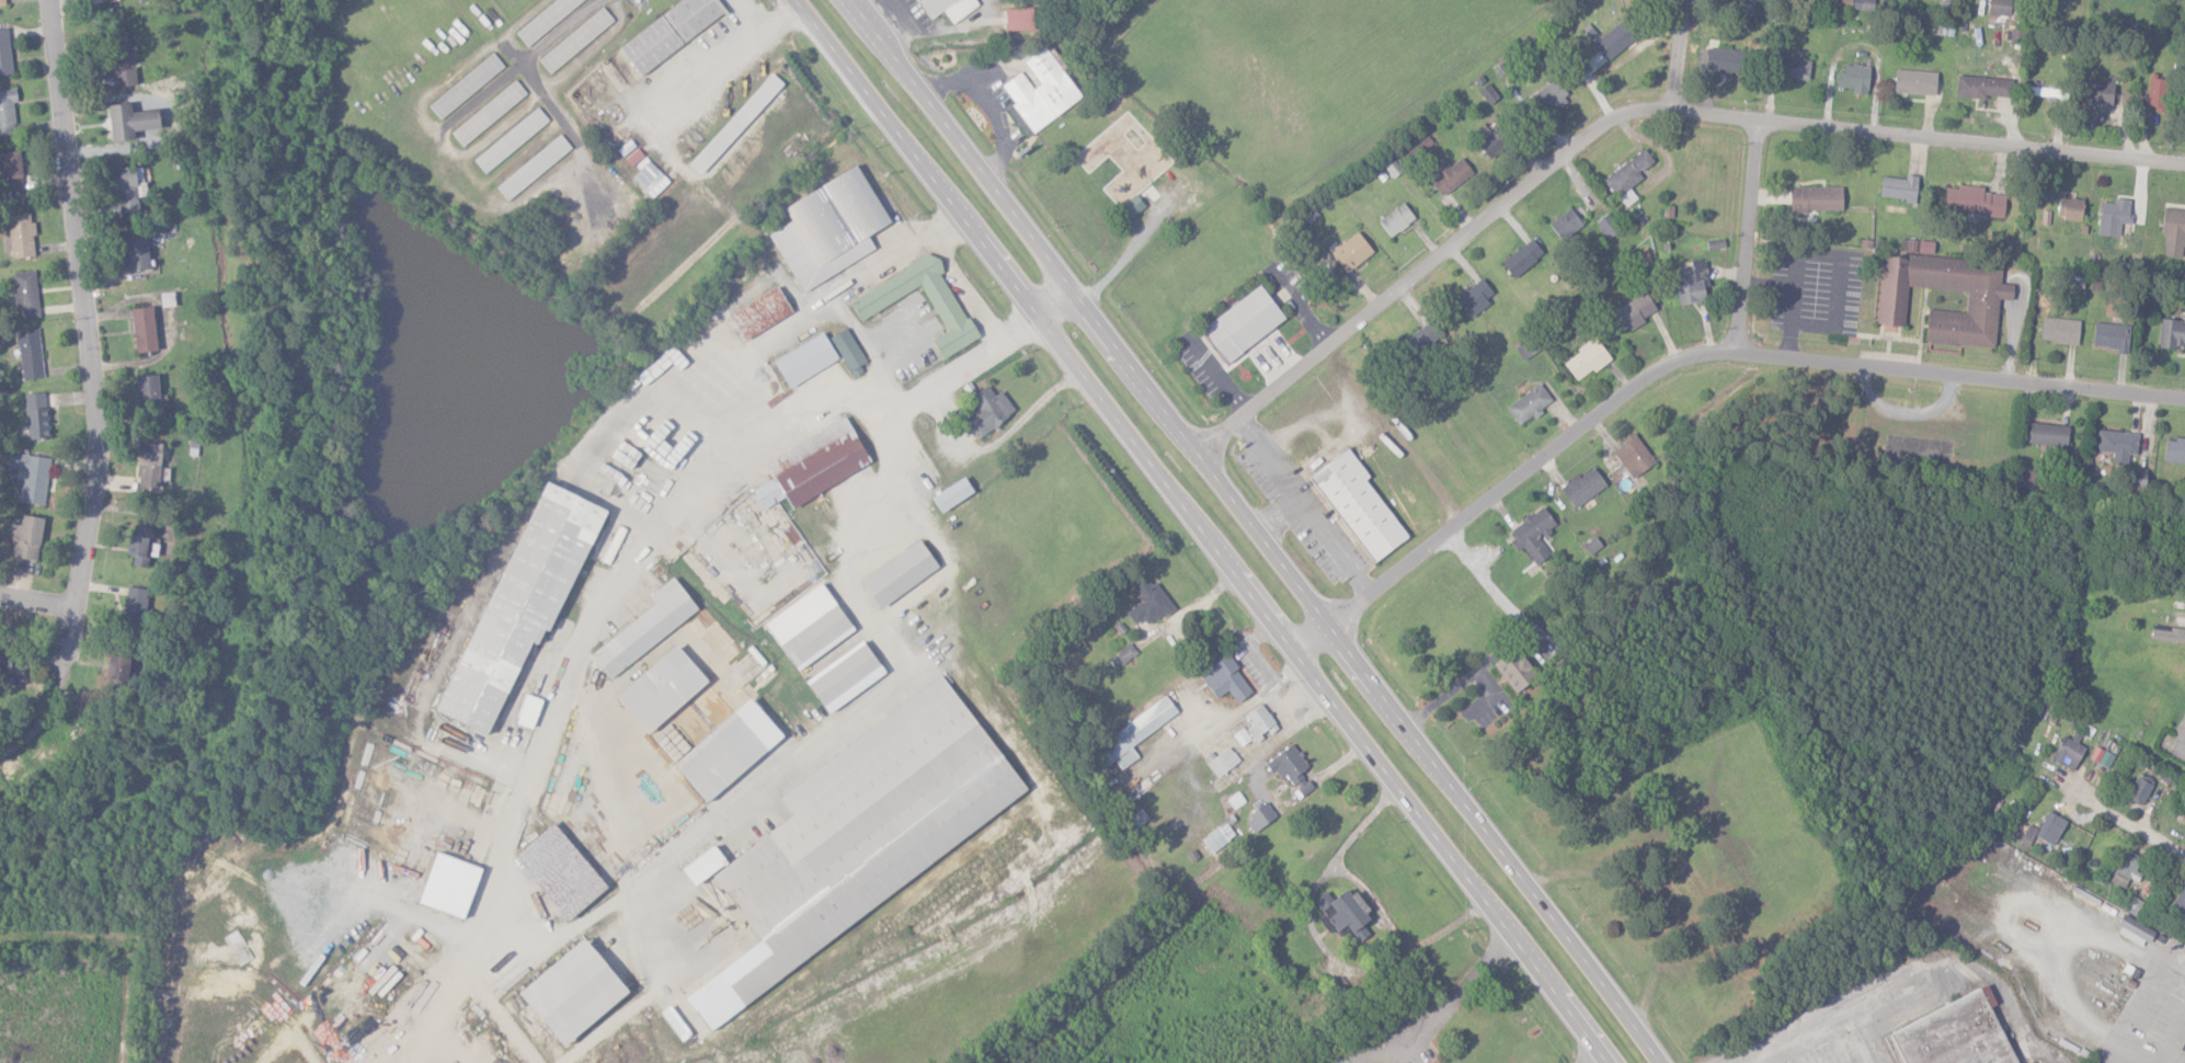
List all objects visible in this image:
building: (1, 2)
building: (1854, 4)
building: (947, 8)
building: (1999, 8)
building: (1018, 19)
building: (545, 20)
road: (766, 23)
building: (668, 32)
building: (575, 41)
building: (1613, 42)
building: (117, 48)
building: (4, 53)
road: (1671, 57)
building: (1723, 60)
road: (708, 67)
building: (1793, 69)
building: (124, 78)
building: (1854, 78)
building: (1914, 82)
building: (465, 85)
building: (1983, 87)
building: (1039, 91)
building: (2098, 91)
building: (2157, 92)
building: (2045, 93)
building: (1549, 96)
building: (7, 111)
building: (488, 113)
road: (1636, 113)
building: (128, 122)
building: (734, 124)
building: (510, 140)
building: (1486, 141)
building: (533, 168)
building: (1392, 168)
building: (10, 172)
building: (1449, 175)
building: (1627, 176)
building: (650, 180)
building: (1899, 187)
building: (128, 188)
building: (1816, 199)
building: (1972, 201)
building: (1132, 206)
building: (2070, 208)
building: (2114, 216)
building: (1396, 219)
building: (1568, 221)
building: (1606, 226)
building: (827, 228)
building: (2173, 233)
building: (20, 235)
road: (1744, 241)
building: (1715, 243)
building: (1925, 247)
building: (1351, 252)
building: (134, 253)
building: (1521, 259)
road: (956, 277)
building: (1691, 283)
building: (24, 294)
building: (1475, 297)
road: (1793, 300)
building: (1981, 305)
building: (947, 309)
building: (758, 313)
building: (1632, 313)
building: (1248, 327)
building: (142, 330)
building: (2060, 330)
building: (2172, 334)
building: (2110, 335)
building: (1420, 340)
building: (848, 353)
building: (28, 354)
road: (88, 357)
road: (1693, 357)
building: (803, 361)
building: (1586, 361)
building: (147, 392)
building: (1528, 404)
building: (987, 411)
building: (35, 415)
building: (2048, 434)
building: (2117, 445)
building: (2174, 450)
building: (625, 454)
building: (1633, 456)
building: (148, 465)
building: (811, 466)
building: (30, 477)
building: (2025, 478)
building: (2137, 479)
building: (1582, 488)
building: (950, 495)
building: (1357, 506)
road: (1306, 510)
road: (1282, 517)
road: (1262, 531)
road: (1208, 533)
building: (1533, 536)
building: (24, 538)
building: (140, 547)
road: (631, 555)
building: (897, 575)
road: (36, 596)
building: (520, 602)
building: (1147, 603)
building: (135, 608)
building: (805, 626)
building: (643, 629)
building: (2167, 633)
road: (1510, 638)
building: (1125, 654)
building: (11, 665)
building: (115, 670)
building: (1514, 671)
building: (842, 675)
building: (1224, 679)
building: (659, 690)
building: (1259, 723)
road: (27, 736)
building: (1240, 736)
building: (1131, 738)
road: (2177, 741)
building: (725, 751)
building: (2068, 753)
building: (1222, 762)
building: (1290, 769)
building: (2140, 790)
building: (1259, 819)
road: (2129, 821)
building: (2044, 830)
building: (1217, 837)
building: (701, 867)
building: (2126, 870)
building: (559, 871)
building: (2180, 899)
building: (1343, 915)
building: (2133, 930)
road: (2124, 948)
road: (1913, 985)
building: (570, 994)
road: (1445, 1009)
building: (674, 1024)
building: (1946, 1039)
building: (2183, 1048)
road: (1598, 1056)

